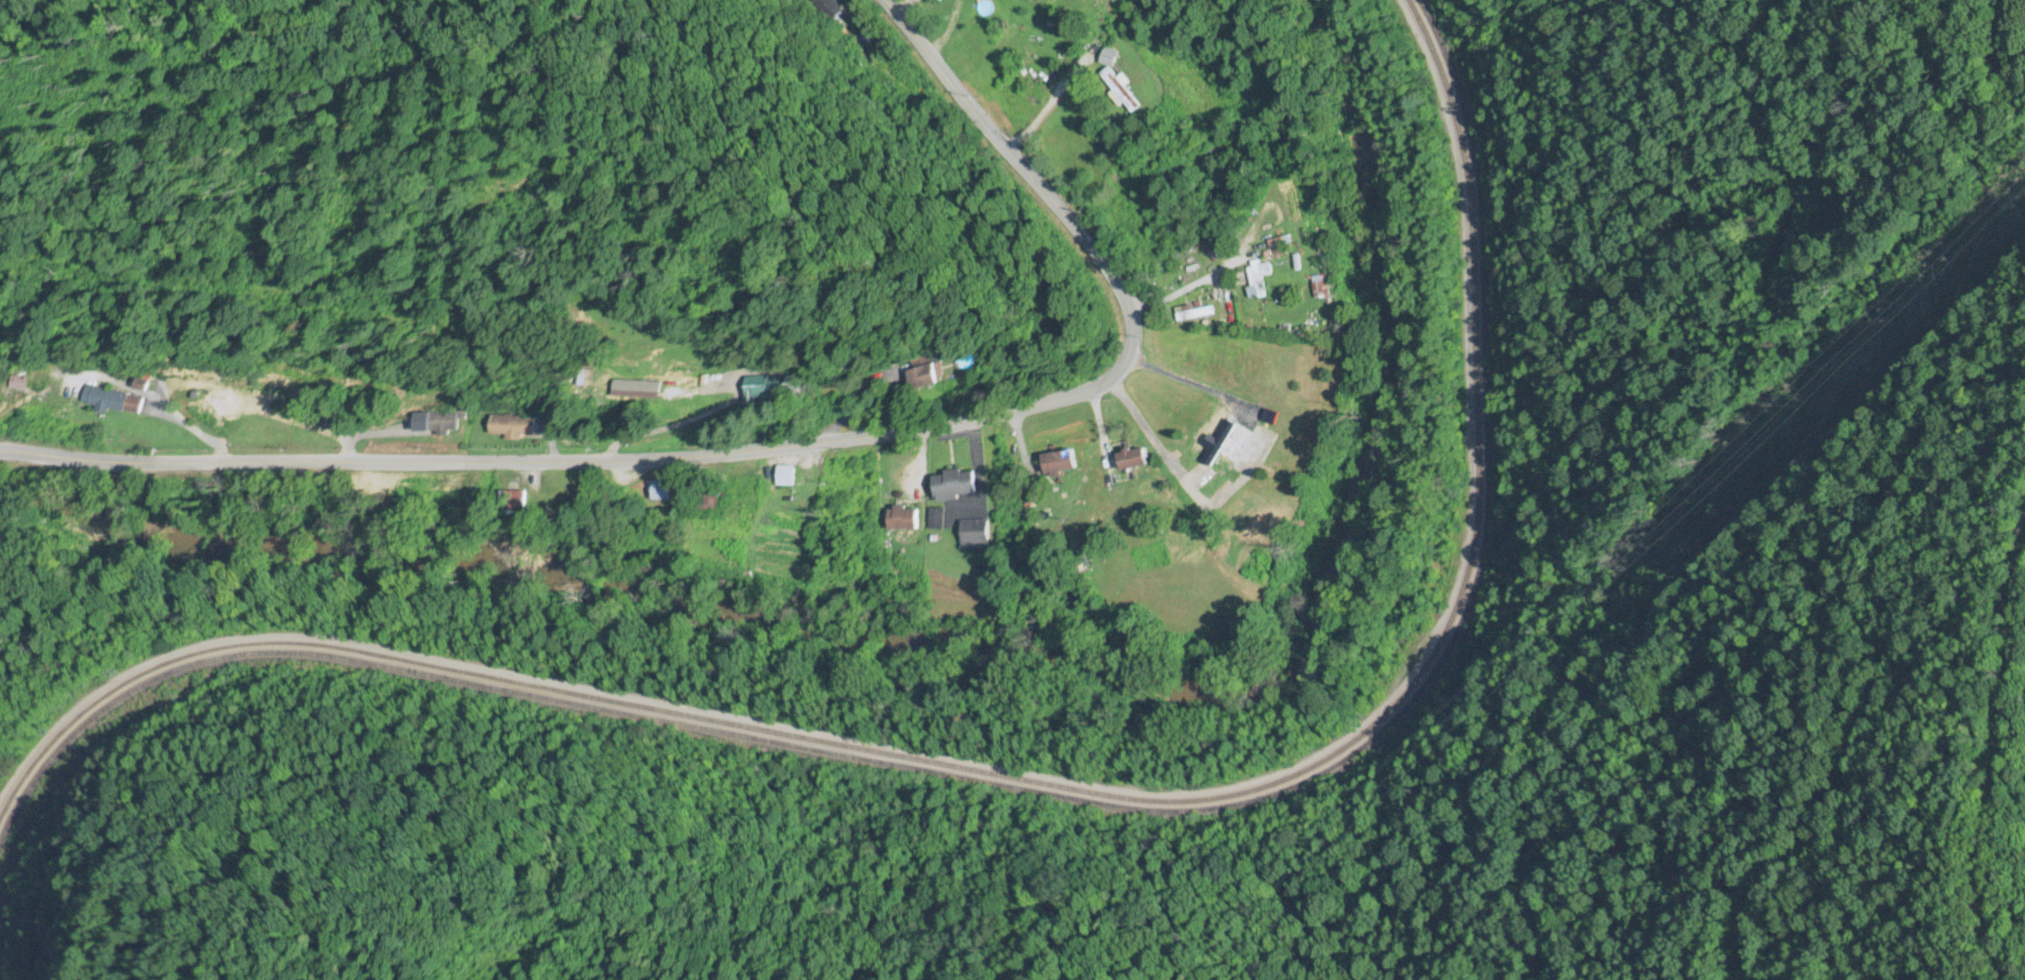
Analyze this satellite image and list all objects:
building: (1091, 5)
building: (1108, 59)
building: (1119, 92)
building: (1296, 258)
building: (1258, 280)
building: (1193, 313)
building: (925, 375)
road: (1183, 380)
building: (761, 390)
building: (113, 403)
building: (437, 423)
building: (511, 427)
building: (259, 436)
building: (1229, 441)
road: (794, 446)
building: (1132, 459)
building: (1060, 462)
building: (786, 476)
building: (956, 484)
building: (661, 491)
building: (709, 500)
building: (513, 501)
building: (905, 519)
building: (937, 519)
building: (976, 535)
railway: (1040, 785)

